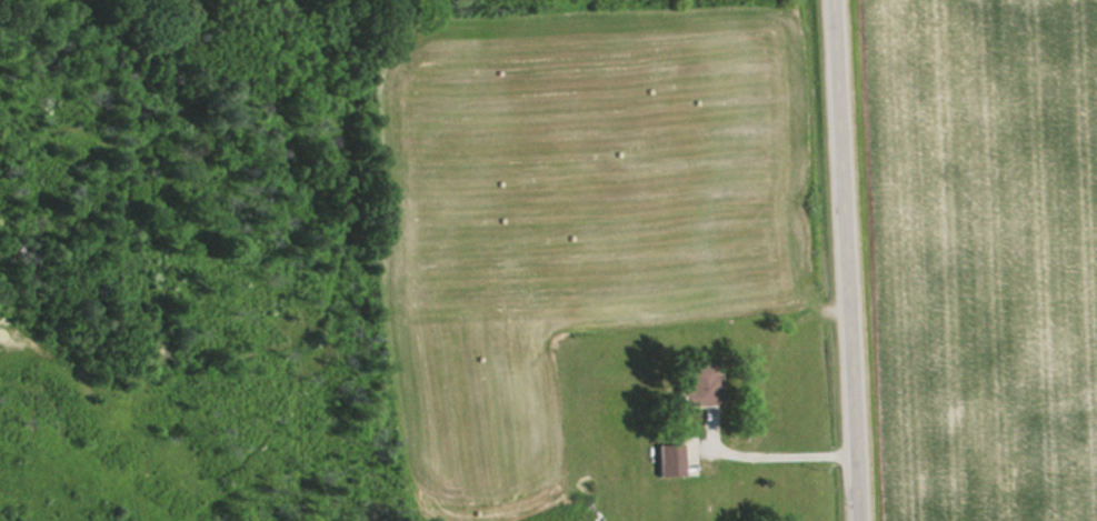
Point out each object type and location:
road: (845, 260)
building: (699, 388)
building: (671, 462)

